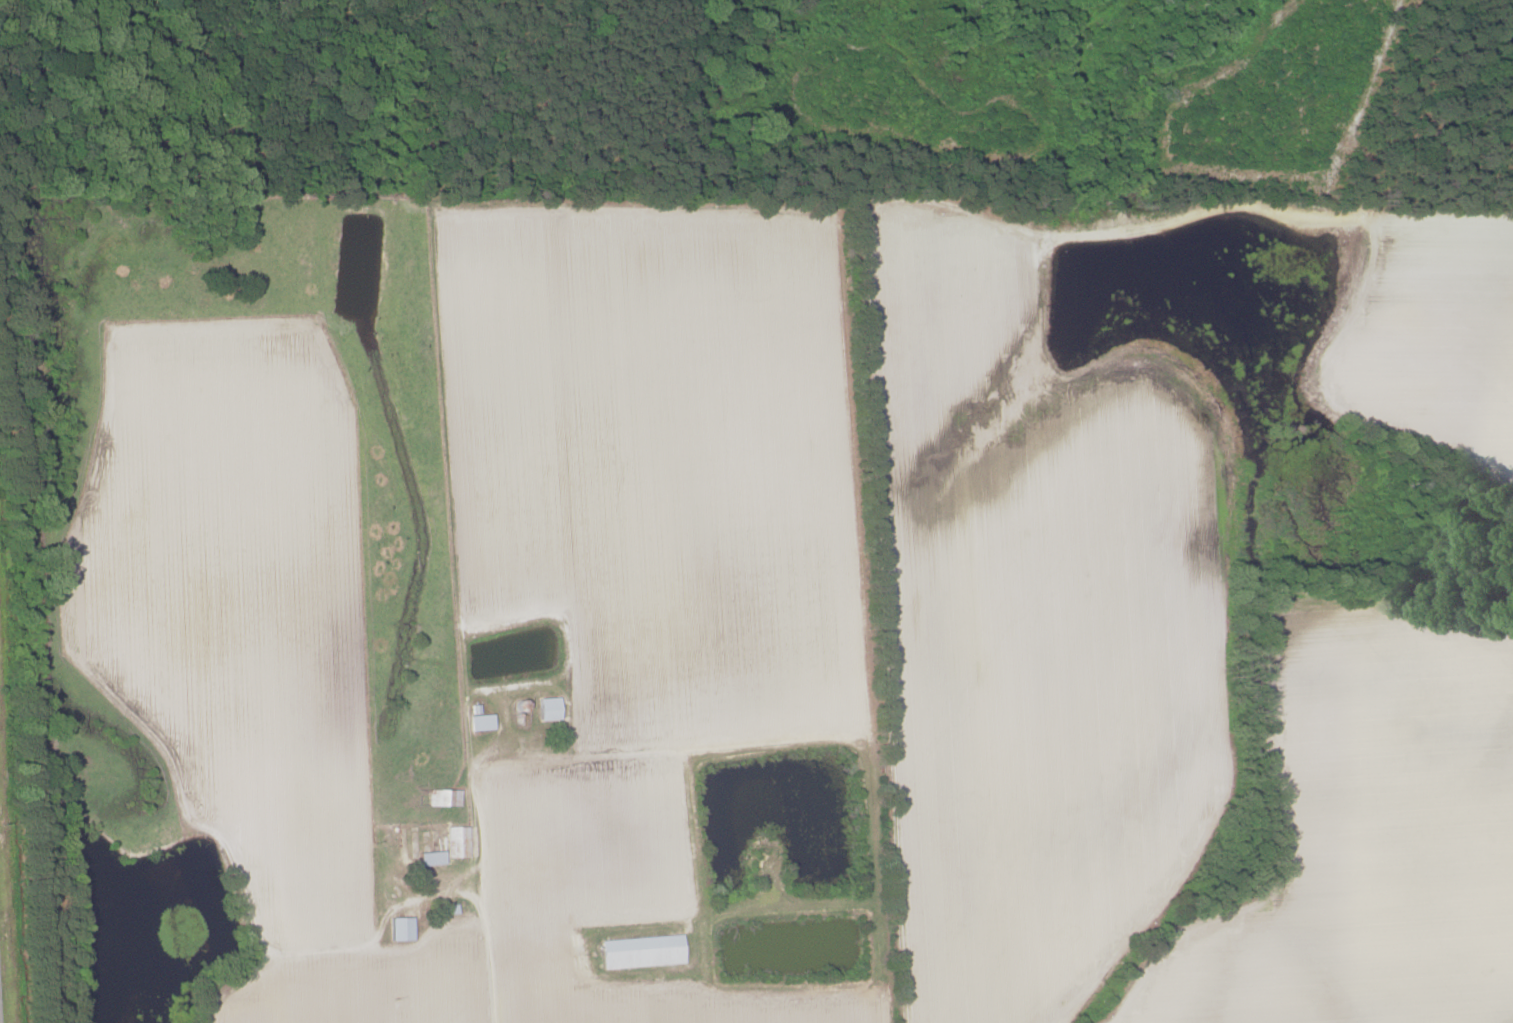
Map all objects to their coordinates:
building: (547, 708)
building: (480, 721)
building: (430, 857)
road: (484, 887)
building: (400, 928)
building: (642, 951)

